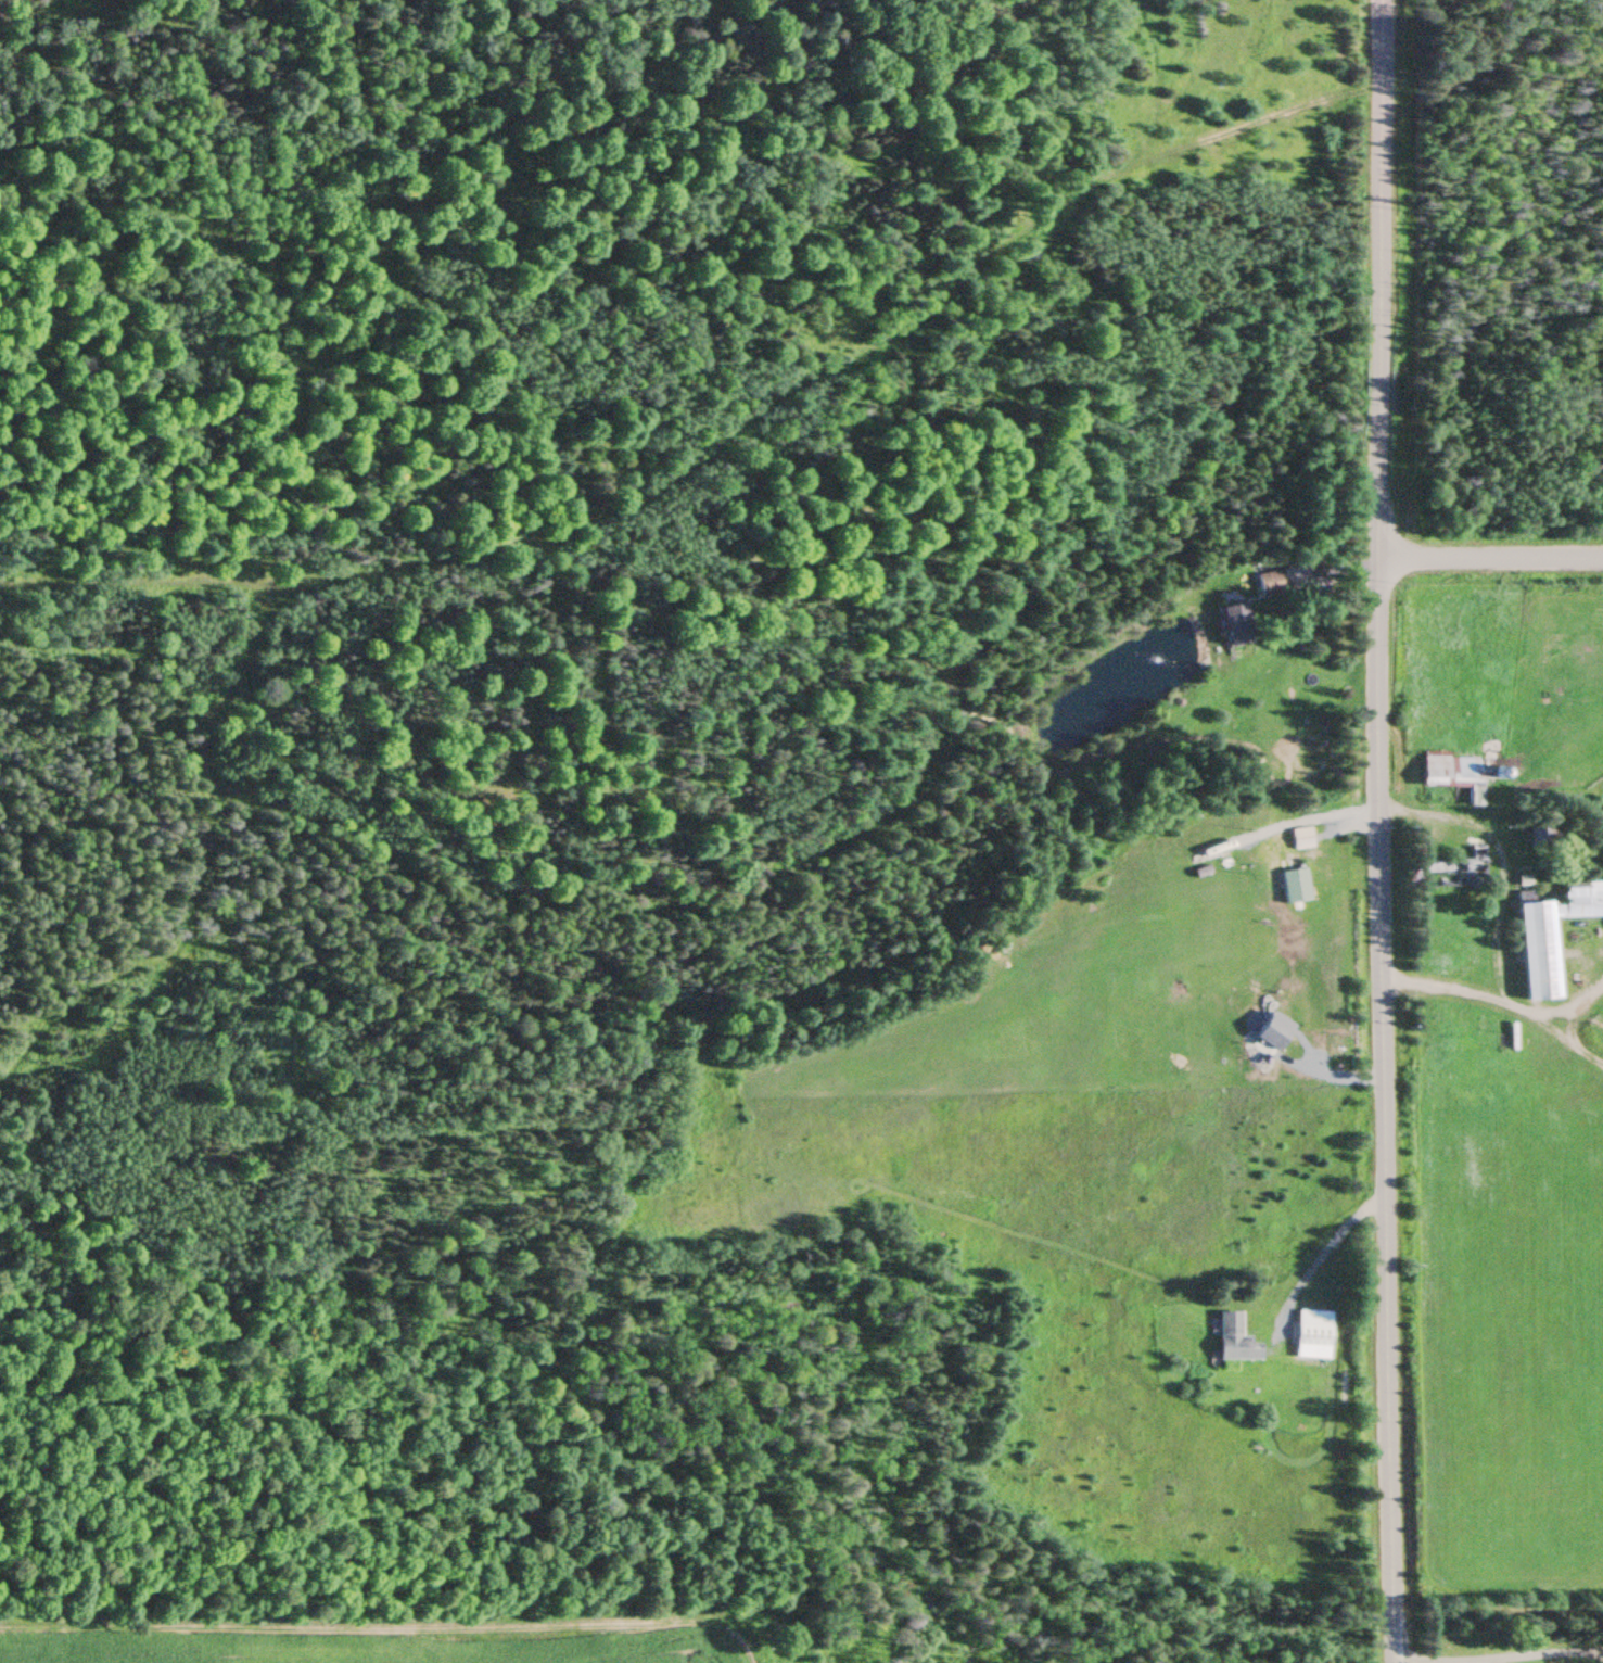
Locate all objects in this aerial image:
road: (1489, 557)
building: (1276, 582)
building: (1235, 624)
building: (1454, 775)
road: (1374, 831)
building: (1301, 840)
building: (1454, 873)
building: (1295, 887)
building: (1552, 938)
building: (1313, 1335)
building: (1234, 1340)
road: (1496, 1660)

